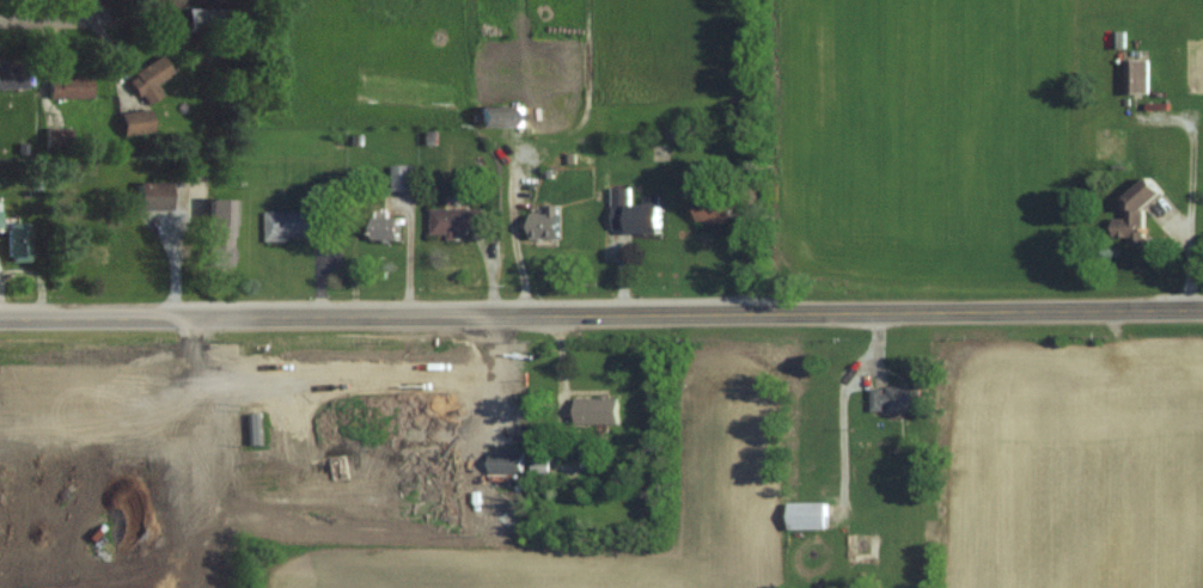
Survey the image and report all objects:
road: (104, 11)
building: (213, 20)
road: (53, 22)
building: (1191, 65)
building: (14, 75)
building: (1132, 75)
building: (154, 79)
building: (73, 87)
building: (501, 118)
building: (140, 122)
building: (55, 139)
building: (405, 179)
building: (158, 196)
building: (717, 213)
building: (1130, 214)
building: (636, 215)
building: (1, 218)
road: (1192, 218)
building: (459, 222)
building: (298, 226)
building: (548, 227)
building: (389, 229)
building: (225, 234)
building: (23, 245)
road: (601, 314)
road: (487, 379)
road: (560, 385)
building: (897, 400)
building: (604, 405)
building: (508, 463)
building: (543, 467)
building: (812, 516)

